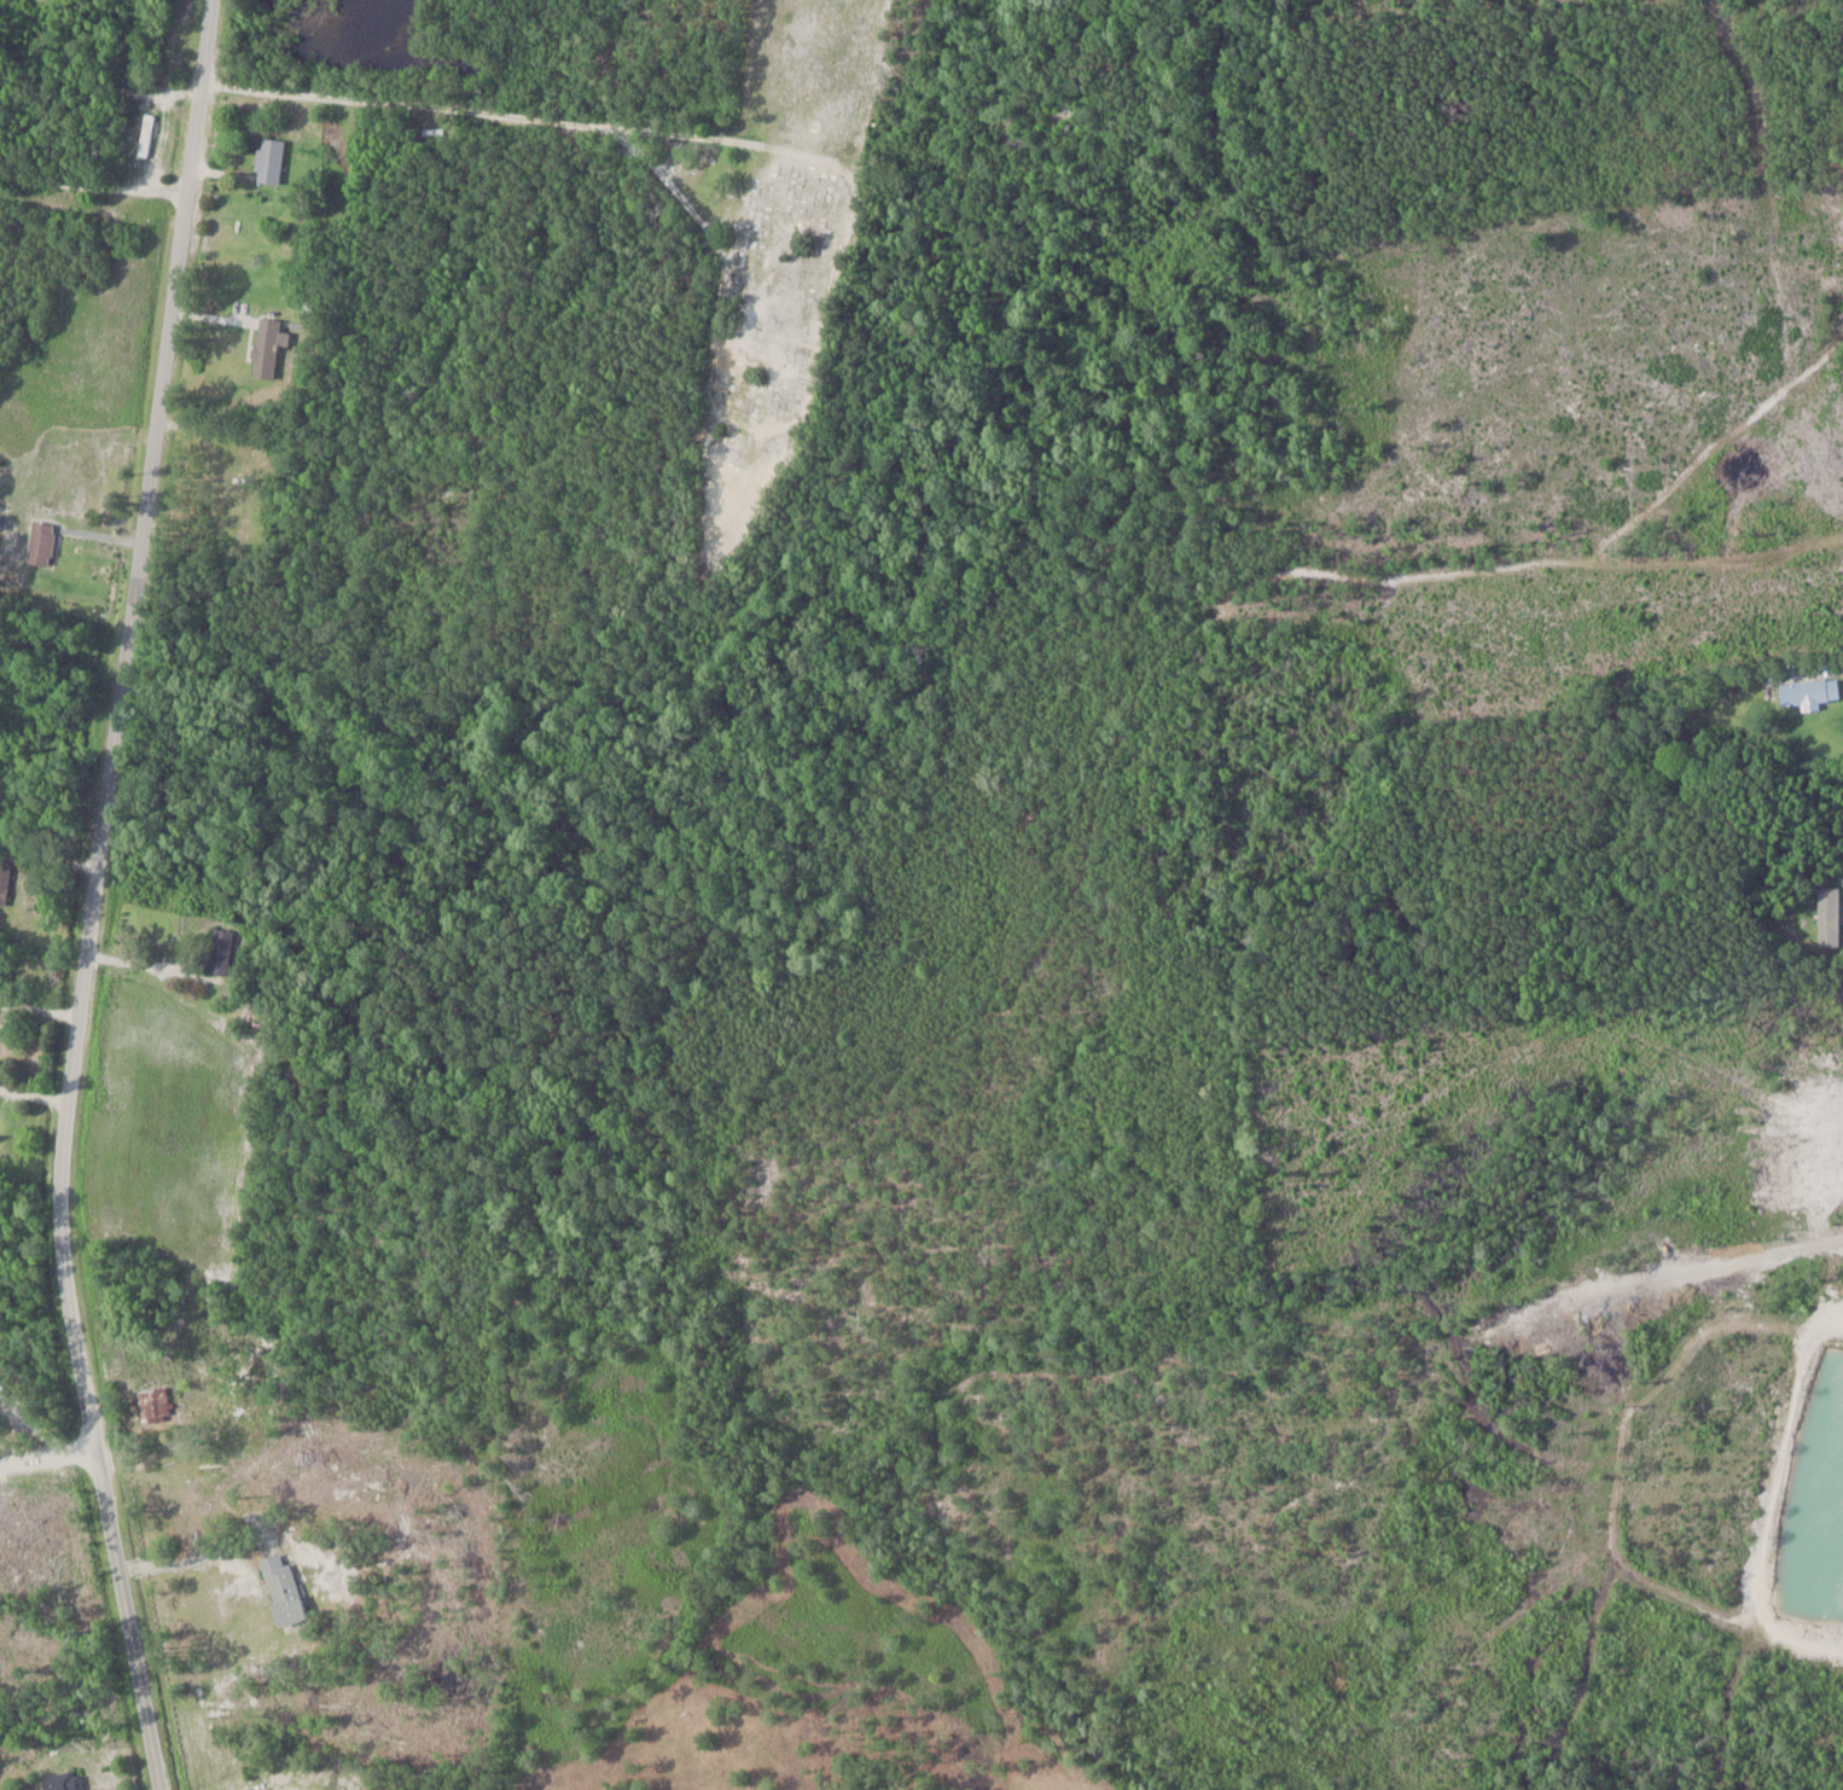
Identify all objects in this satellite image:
road: (397, 130)
building: (145, 134)
building: (268, 158)
road: (92, 186)
building: (264, 348)
building: (237, 522)
building: (40, 542)
building: (1814, 691)
building: (4, 881)
road: (97, 896)
building: (215, 958)
road: (149, 966)
road: (35, 1093)
building: (155, 1403)
road: (52, 1488)
road: (402, 1585)
building: (281, 1590)
building: (58, 1782)
building: (283, 1786)

